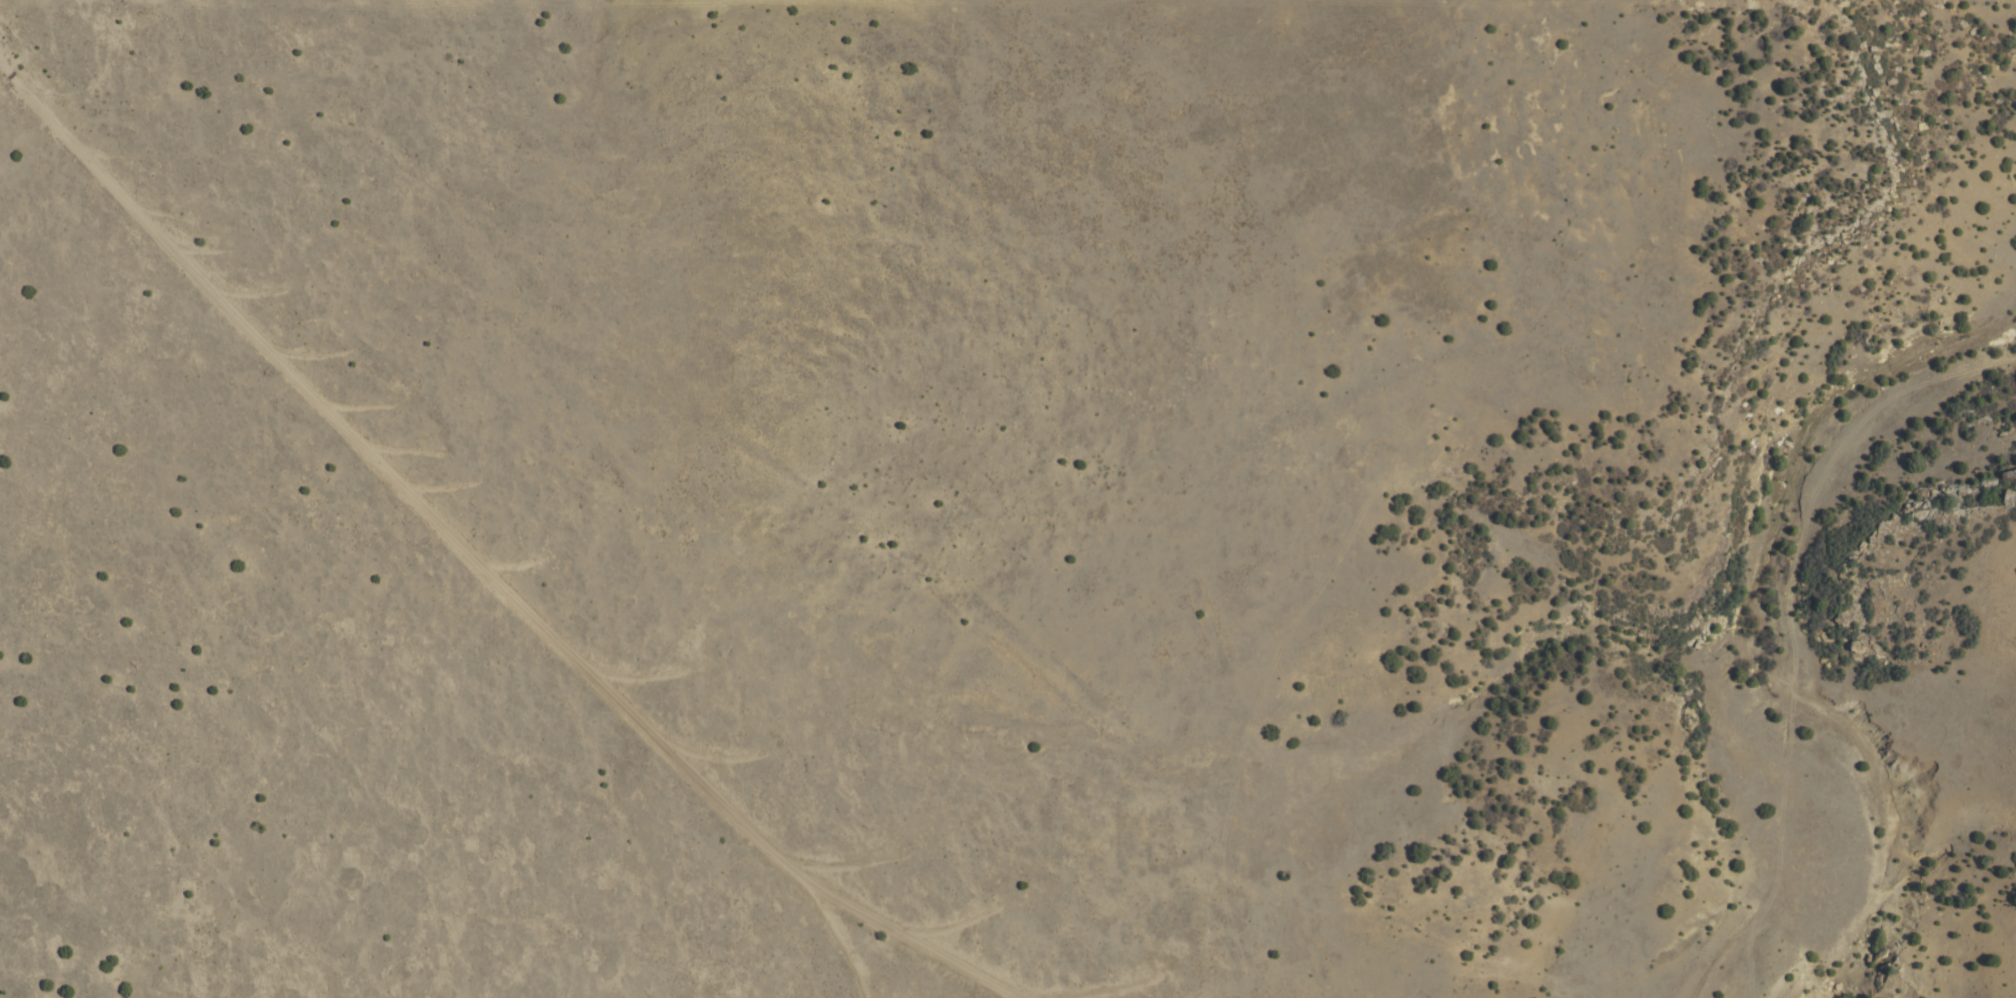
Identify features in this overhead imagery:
road: (454, 604)

